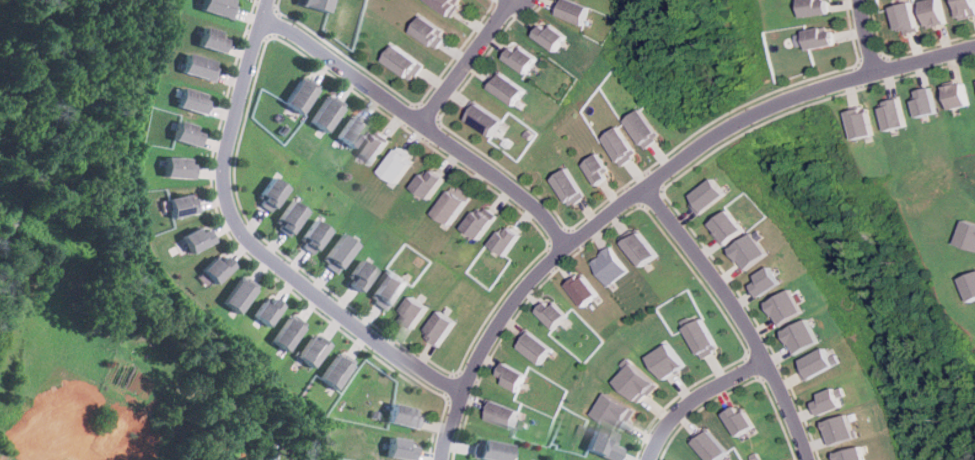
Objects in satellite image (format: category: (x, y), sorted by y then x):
building: (315, 4)
building: (449, 5)
building: (217, 7)
building: (818, 7)
building: (965, 8)
building: (573, 10)
building: (934, 12)
building: (905, 17)
building: (430, 31)
building: (549, 35)
building: (822, 37)
road: (868, 37)
building: (209, 39)
building: (518, 57)
road: (462, 61)
building: (405, 62)
building: (197, 66)
building: (504, 88)
building: (958, 95)
building: (299, 96)
building: (189, 100)
building: (929, 102)
building: (324, 114)
building: (898, 114)
building: (481, 118)
building: (867, 123)
road: (418, 125)
building: (648, 128)
building: (351, 129)
building: (182, 133)
building: (624, 145)
building: (374, 146)
building: (398, 164)
building: (173, 166)
building: (602, 169)
building: (429, 182)
road: (649, 185)
building: (570, 186)
building: (268, 195)
building: (711, 195)
building: (177, 204)
building: (449, 206)
building: (288, 216)
building: (477, 221)
building: (729, 226)
building: (970, 234)
building: (312, 237)
building: (192, 238)
building: (505, 240)
road: (245, 243)
building: (646, 247)
building: (751, 251)
building: (339, 252)
building: (616, 266)
building: (211, 268)
building: (361, 275)
building: (768, 281)
building: (972, 283)
building: (389, 289)
building: (589, 289)
building: (236, 293)
building: (787, 307)
building: (267, 311)
building: (412, 312)
building: (557, 313)
road: (738, 317)
building: (439, 328)
building: (288, 333)
building: (804, 336)
building: (704, 338)
building: (538, 346)
building: (316, 350)
building: (670, 361)
building: (820, 362)
building: (340, 372)
building: (514, 376)
building: (640, 383)
road: (696, 399)
building: (832, 400)
building: (619, 411)
building: (501, 413)
building: (406, 416)
building: (740, 420)
building: (842, 428)
building: (598, 443)
building: (710, 444)
building: (400, 448)
building: (492, 450)
building: (852, 454)

